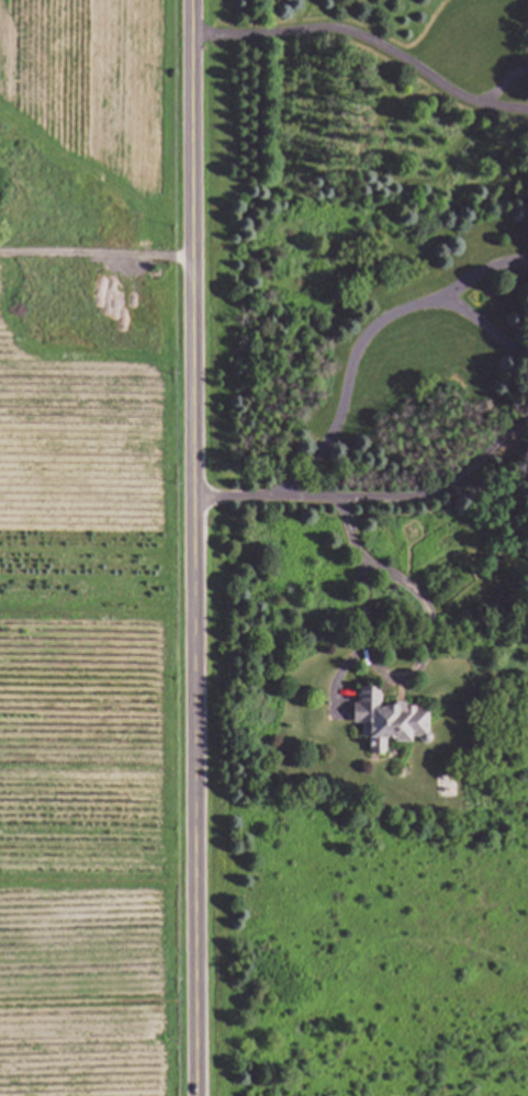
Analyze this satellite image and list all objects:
road: (347, 30)
road: (504, 81)
road: (504, 105)
road: (480, 271)
road: (481, 325)
road: (347, 387)
road: (380, 499)
road: (201, 547)
road: (386, 674)
building: (384, 719)

